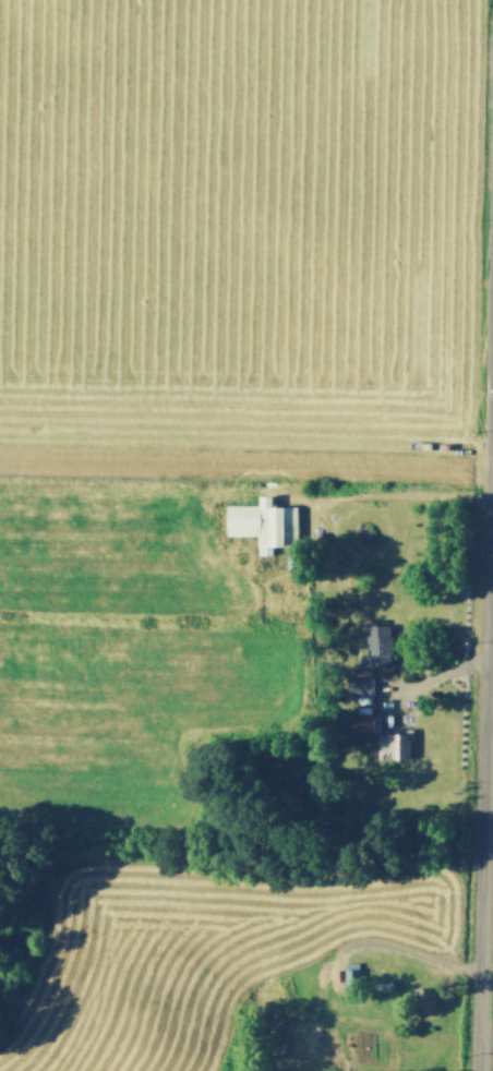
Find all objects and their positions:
crop: (248, 230)
building: (262, 519)
building: (315, 533)
crop: (112, 553)
building: (292, 557)
building: (375, 642)
road: (433, 673)
building: (359, 683)
road: (400, 694)
building: (362, 698)
building: (362, 708)
road: (484, 708)
crop: (128, 712)
building: (363, 723)
building: (393, 739)
crop: (488, 823)
road: (402, 944)
crop: (195, 953)
building: (350, 972)
building: (330, 977)
building: (389, 983)
building: (421, 996)

